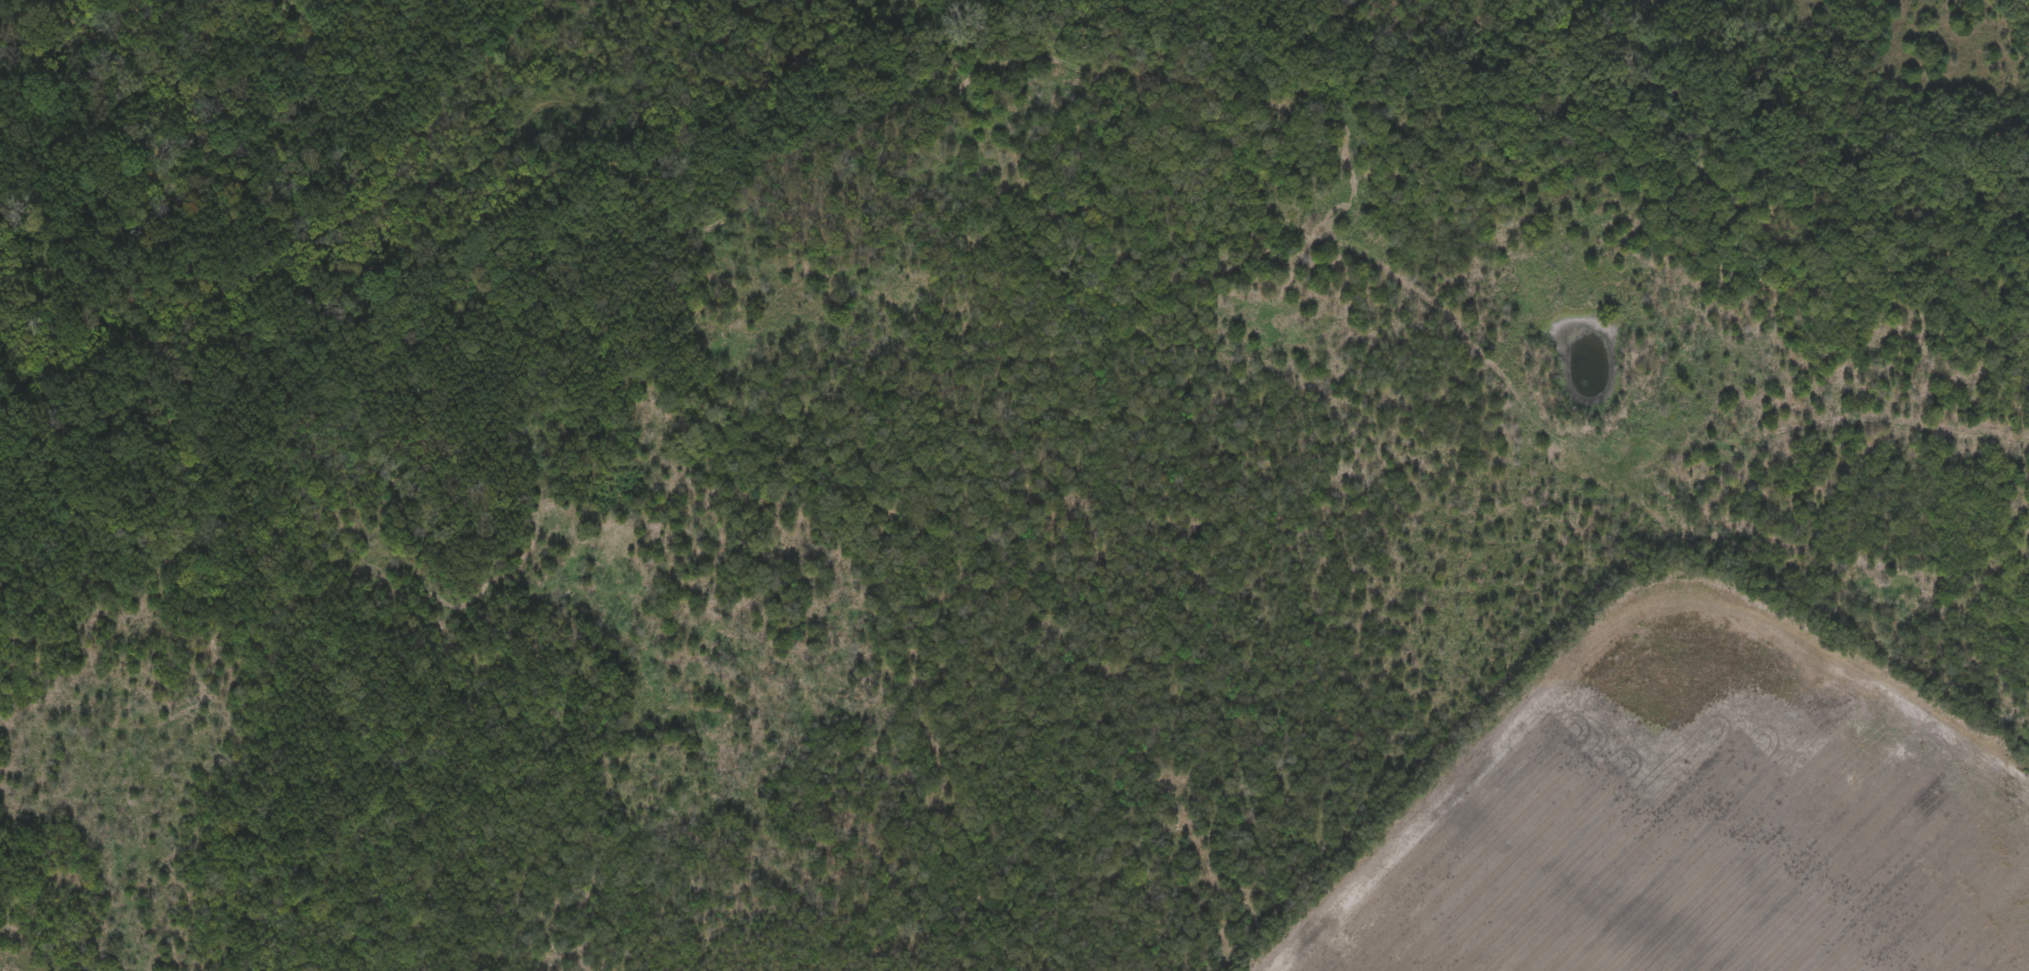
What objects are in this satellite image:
crop: (1695, 814)

